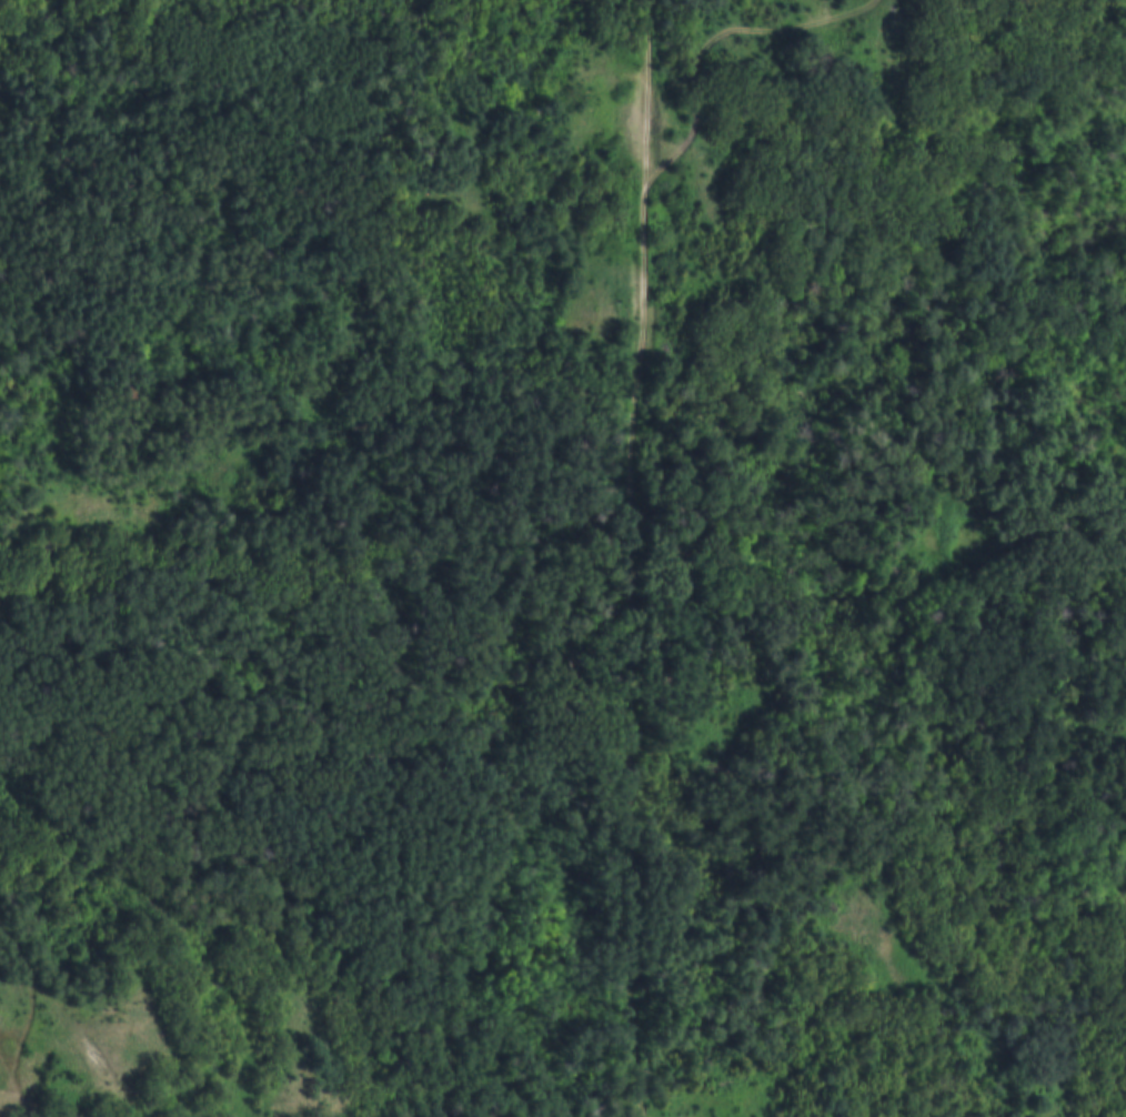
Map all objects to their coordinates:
road: (641, 557)

